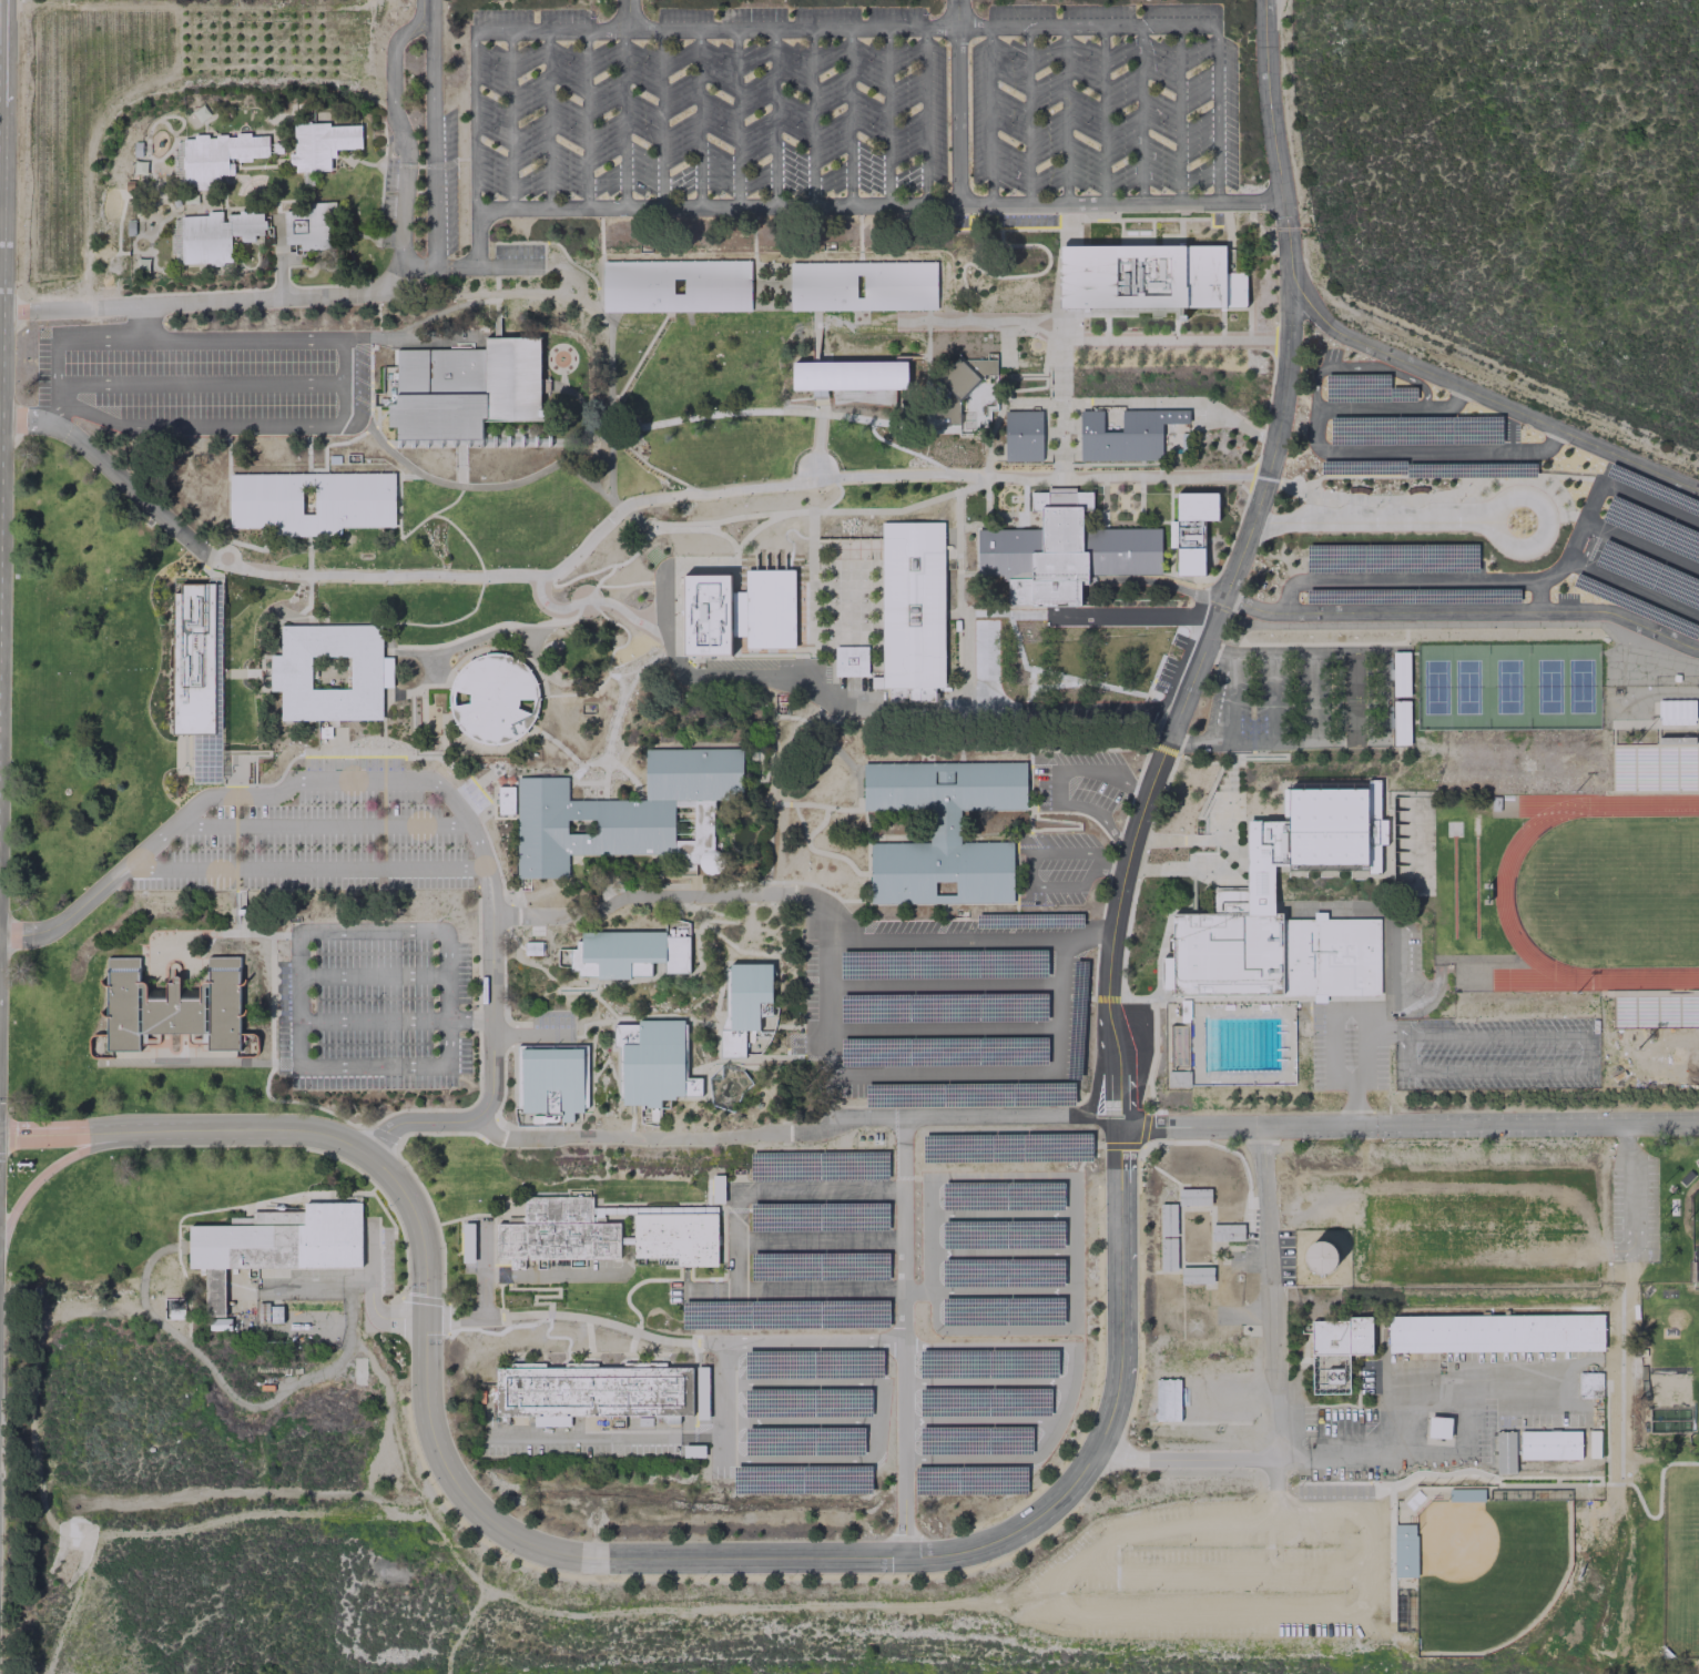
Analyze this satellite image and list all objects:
road: (627, 14)
road: (0, 23)
road: (1086, 27)
road: (714, 29)
road: (0, 80)
parking lot: (849, 101)
road: (957, 101)
road: (1179, 113)
road: (1217, 113)
road: (1028, 114)
road: (1066, 114)
road: (1102, 114)
road: (1141, 114)
road: (925, 115)
road: (989, 115)
road: (849, 116)
road: (887, 116)
road: (662, 118)
road: (699, 118)
road: (736, 118)
road: (774, 118)
road: (812, 118)
road: (472, 119)
road: (548, 119)
road: (586, 119)
road: (623, 119)
road: (510, 120)
building: (321, 144)
building: (214, 156)
road: (357, 160)
road: (428, 165)
parking lot: (449, 177)
road: (380, 193)
parking lot: (387, 201)
road: (878, 205)
road: (858, 211)
road: (753, 212)
road: (600, 214)
road: (1150, 219)
road: (1228, 222)
road: (858, 225)
building: (312, 226)
road: (1179, 230)
road: (753, 231)
building: (212, 236)
road: (1170, 236)
road: (474, 237)
road: (1135, 237)
road: (1058, 242)
parking lot: (517, 251)
road: (499, 254)
road: (543, 256)
road: (1047, 256)
road: (277, 257)
road: (752, 257)
road: (859, 257)
road: (567, 258)
road: (1289, 262)
road: (298, 265)
road: (355, 265)
road: (416, 265)
road: (454, 266)
road: (507, 266)
road: (541, 266)
road: (496, 271)
road: (389, 276)
road: (601, 277)
building: (1148, 277)
road: (319, 285)
road: (752, 285)
building: (676, 286)
road: (787, 286)
building: (862, 286)
road: (937, 286)
road: (204, 291)
road: (376, 297)
road: (187, 303)
road: (496, 303)
road: (1054, 310)
road: (1130, 310)
road: (442, 311)
road: (1220, 311)
road: (815, 317)
road: (1247, 321)
road: (141, 323)
road: (1105, 325)
road: (496, 326)
road: (1008, 327)
road: (378, 332)
road: (409, 334)
road: (200, 341)
road: (1089, 341)
road: (815, 345)
road: (1005, 345)
road: (639, 359)
road: (1364, 368)
road: (927, 369)
road: (54, 373)
road: (1018, 378)
parking lot: (204, 379)
building: (853, 381)
road: (200, 383)
road: (346, 383)
building: (960, 383)
building: (465, 388)
road: (1487, 397)
road: (786, 400)
road: (1007, 402)
road: (1188, 403)
road: (821, 408)
road: (1060, 409)
road: (609, 410)
road: (369, 412)
road: (50, 415)
road: (380, 415)
road: (376, 419)
road: (655, 424)
road: (199, 425)
parking lot: (1405, 429)
building: (1123, 434)
building: (1023, 435)
road: (323, 446)
road: (816, 448)
road: (909, 452)
road: (1345, 452)
road: (1102, 464)
road: (652, 468)
road: (1247, 468)
road: (1158, 469)
road: (119, 476)
road: (233, 476)
road: (459, 476)
road: (1243, 477)
road: (584, 480)
road: (1102, 480)
road: (492, 486)
road: (1611, 488)
road: (1024, 497)
road: (1169, 498)
building: (311, 501)
road: (1140, 501)
road: (1103, 503)
road: (615, 504)
road: (908, 507)
road: (431, 513)
road: (1021, 514)
road: (740, 516)
road: (1373, 521)
road: (1546, 521)
road: (957, 525)
road: (649, 526)
road: (599, 528)
road: (669, 529)
building: (1192, 529)
road: (307, 531)
road: (228, 540)
road: (1641, 546)
parking lot: (1636, 548)
building: (1064, 549)
road: (308, 561)
road: (1170, 561)
road: (1170, 575)
road: (308, 579)
parking lot: (1407, 581)
road: (1418, 581)
road: (664, 582)
road: (1174, 587)
road: (1632, 589)
road: (591, 592)
road: (958, 593)
road: (1537, 597)
building: (912, 602)
road: (548, 606)
road: (301, 610)
road: (1464, 612)
road: (955, 613)
building: (706, 615)
road: (630, 619)
road: (297, 623)
road: (517, 623)
road: (387, 633)
road: (985, 643)
road: (1296, 653)
building: (851, 659)
road: (967, 659)
road: (1023, 662)
road: (1067, 663)
parking lot: (1084, 663)
road: (1108, 663)
road: (1147, 663)
building: (329, 672)
building: (1400, 673)
building: (199, 674)
building: (1352, 674)
road: (780, 679)
road: (629, 683)
park: (1507, 684)
park: (1580, 684)
park: (1435, 686)
park: (1466, 686)
park: (1548, 686)
road: (439, 687)
road: (421, 690)
road: (1351, 696)
road: (1392, 696)
road: (388, 697)
building: (494, 697)
road: (1271, 697)
road: (1311, 697)
road: (1230, 698)
parking lot: (1304, 700)
road: (429, 720)
building: (1353, 722)
building: (1400, 722)
road: (610, 733)
road: (1280, 741)
road: (557, 743)
road: (1252, 748)
road: (1060, 749)
road: (221, 754)
road: (1233, 754)
road: (230, 755)
road: (244, 755)
road: (1189, 758)
road: (1278, 758)
road: (227, 760)
road: (610, 760)
road: (485, 771)
road: (241, 774)
road: (546, 774)
road: (235, 775)
road: (235, 783)
road: (244, 784)
road: (1056, 784)
parking lot: (1082, 784)
road: (491, 785)
building: (946, 788)
building: (506, 800)
road: (786, 805)
road: (383, 808)
road: (1199, 811)
road: (1030, 812)
building: (630, 813)
road: (1082, 813)
road: (1139, 814)
road: (495, 816)
road: (322, 825)
road: (1078, 825)
road: (822, 828)
road: (1029, 829)
building: (1335, 829)
road: (235, 838)
road: (1212, 839)
parking lot: (316, 845)
road: (1230, 848)
road: (817, 852)
road: (1113, 852)
road: (1200, 853)
road: (1126, 859)
road: (1235, 861)
road: (305, 868)
parking lot: (1070, 868)
road: (1109, 869)
road: (1183, 870)
road: (1225, 870)
road: (1138, 872)
building: (945, 874)
road: (686, 876)
road: (110, 880)
road: (1081, 883)
road: (733, 884)
road: (490, 890)
stadium: (1566, 894)
road: (674, 895)
road: (242, 909)
building: (242, 912)
road: (506, 926)
road: (214, 933)
road: (1088, 935)
building: (1268, 941)
road: (698, 951)
building: (628, 953)
road: (760, 960)
road: (372, 976)
road: (1061, 976)
road: (299, 977)
road: (1388, 982)
road: (943, 986)
road: (556, 992)
road: (1070, 997)
building: (1273, 997)
road: (1198, 998)
road: (271, 1002)
building: (745, 1004)
building: (174, 1005)
parking lot: (373, 1005)
parking lot: (949, 1007)
road: (651, 1016)
road: (373, 1019)
road: (469, 1019)
road: (591, 1022)
parking lot: (552, 1025)
road: (1332, 1029)
road: (946, 1031)
road: (509, 1035)
road: (528, 1035)
road: (1495, 1035)
road: (716, 1042)
road: (1364, 1045)
road: (686, 1046)
road: (617, 1049)
parking lot: (1345, 1049)
parking lot: (1496, 1053)
road: (1588, 1053)
road: (1403, 1054)
road: (477, 1058)
road: (606, 1059)
road: (735, 1059)
building: (652, 1062)
road: (590, 1066)
road: (1496, 1072)
building: (1178, 1078)
building: (552, 1079)
road: (1148, 1079)
road: (502, 1087)
road: (313, 1105)
road: (1353, 1106)
road: (954, 1114)
road: (1408, 1124)
road: (629, 1125)
road: (486, 1127)
road: (487, 1127)
road: (83, 1133)
road: (440, 1134)
road: (644, 1137)
road: (1201, 1142)
road: (63, 1158)
road: (1140, 1158)
road: (1000, 1176)
building: (716, 1189)
road: (820, 1189)
road: (1631, 1190)
building: (1193, 1196)
parking lot: (1632, 1203)
road: (388, 1205)
road: (381, 1209)
road: (1000, 1215)
road: (464, 1216)
building: (1168, 1220)
road: (1224, 1221)
road: (1177, 1222)
road: (435, 1224)
park: (1457, 1224)
building: (558, 1231)
building: (1227, 1232)
road: (928, 1234)
road: (1210, 1234)
building: (676, 1237)
building: (282, 1239)
road: (735, 1240)
road: (818, 1240)
building: (467, 1241)
parking lot: (476, 1244)
parking lot: (802, 1245)
road: (1225, 1246)
road: (482, 1248)
parking lot: (1001, 1250)
road: (1000, 1252)
road: (1072, 1252)
building: (1168, 1254)
road: (372, 1256)
parking lot: (375, 1257)
building: (1320, 1257)
road: (722, 1264)
road: (550, 1272)
building: (1196, 1275)
road: (1213, 1277)
road: (319, 1280)
road: (633, 1284)
road: (713, 1285)
road: (557, 1289)
road: (796, 1290)
road: (918, 1290)
road: (1003, 1290)
road: (1272, 1290)
road: (419, 1299)
road: (499, 1303)
park: (1670, 1309)
road: (933, 1310)
building: (268, 1312)
road: (434, 1317)
road: (603, 1320)
building: (218, 1322)
road: (526, 1323)
road: (1006, 1329)
building: (1496, 1332)
road: (586, 1333)
road: (904, 1336)
road: (549, 1337)
road: (631, 1340)
road: (753, 1341)
road: (988, 1343)
building: (1336, 1351)
road: (987, 1381)
road: (1403, 1382)
road: (801, 1383)
building: (1590, 1384)
building: (593, 1391)
parking lot: (1208, 1394)
road: (1218, 1394)
parking lot: (991, 1403)
road: (1064, 1408)
parking lot: (744, 1411)
road: (980, 1420)
road: (876, 1421)
road: (798, 1422)
building: (1438, 1427)
road: (604, 1438)
building: (1549, 1444)
road: (1448, 1450)
building: (1504, 1451)
road: (965, 1459)
road: (1186, 1459)
road: (796, 1460)
road: (1275, 1479)
road: (1269, 1533)
building: (1404, 1550)
park: (1680, 1556)
road: (667, 1558)
park: (1478, 1568)
road: (1286, 1569)
parking lot: (1220, 1570)
road: (1098, 1615)

